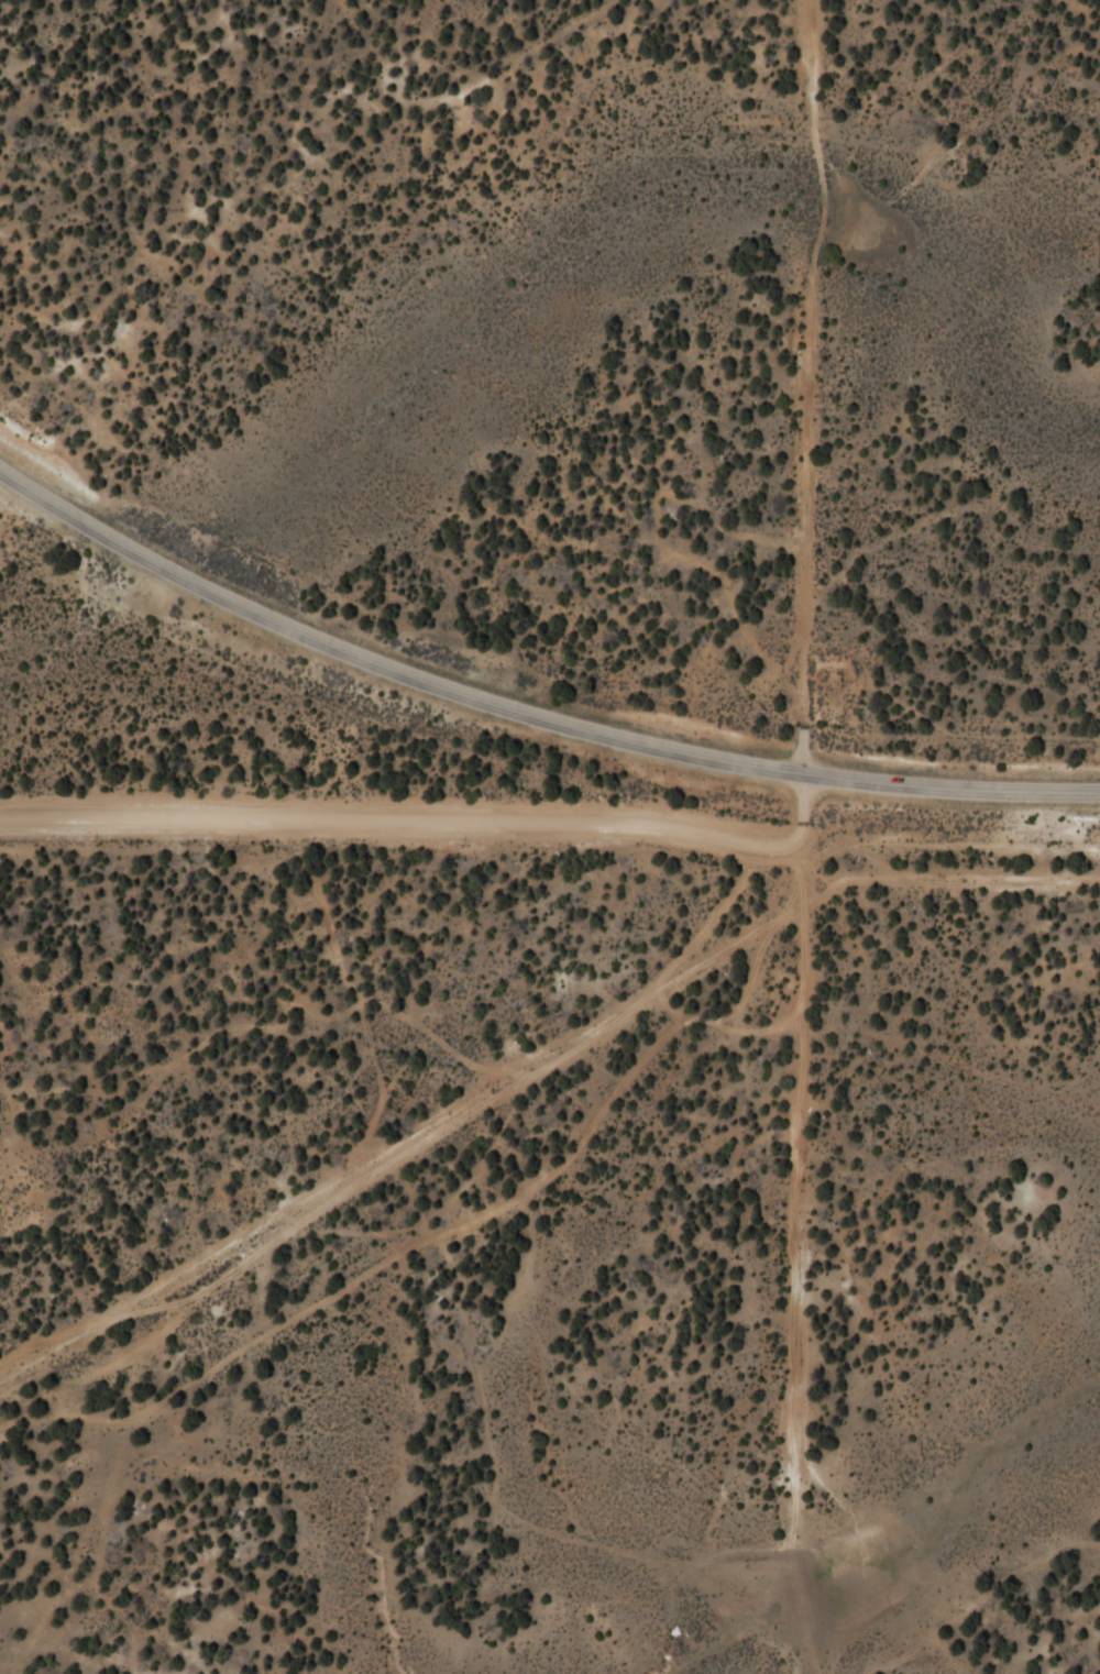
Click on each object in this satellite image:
road: (813, 382)
road: (526, 700)
road: (438, 813)

